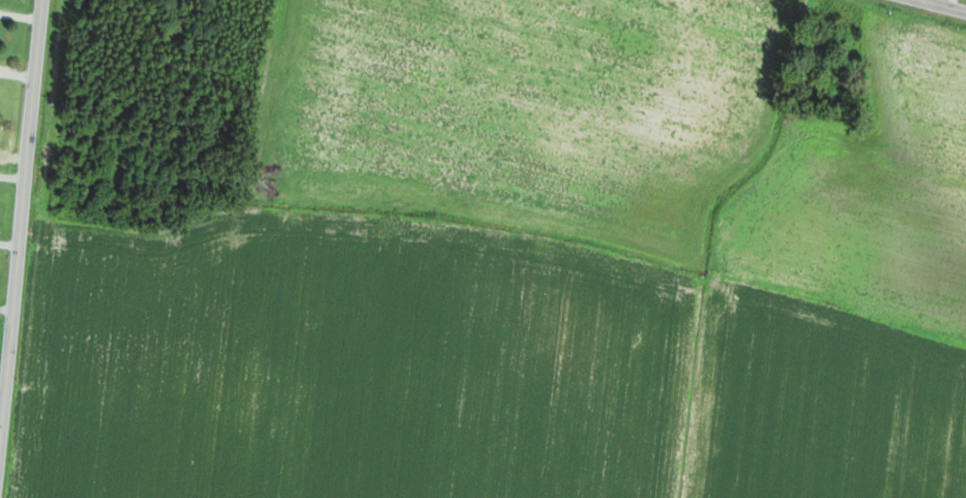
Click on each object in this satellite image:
road: (937, 7)
road: (21, 231)

